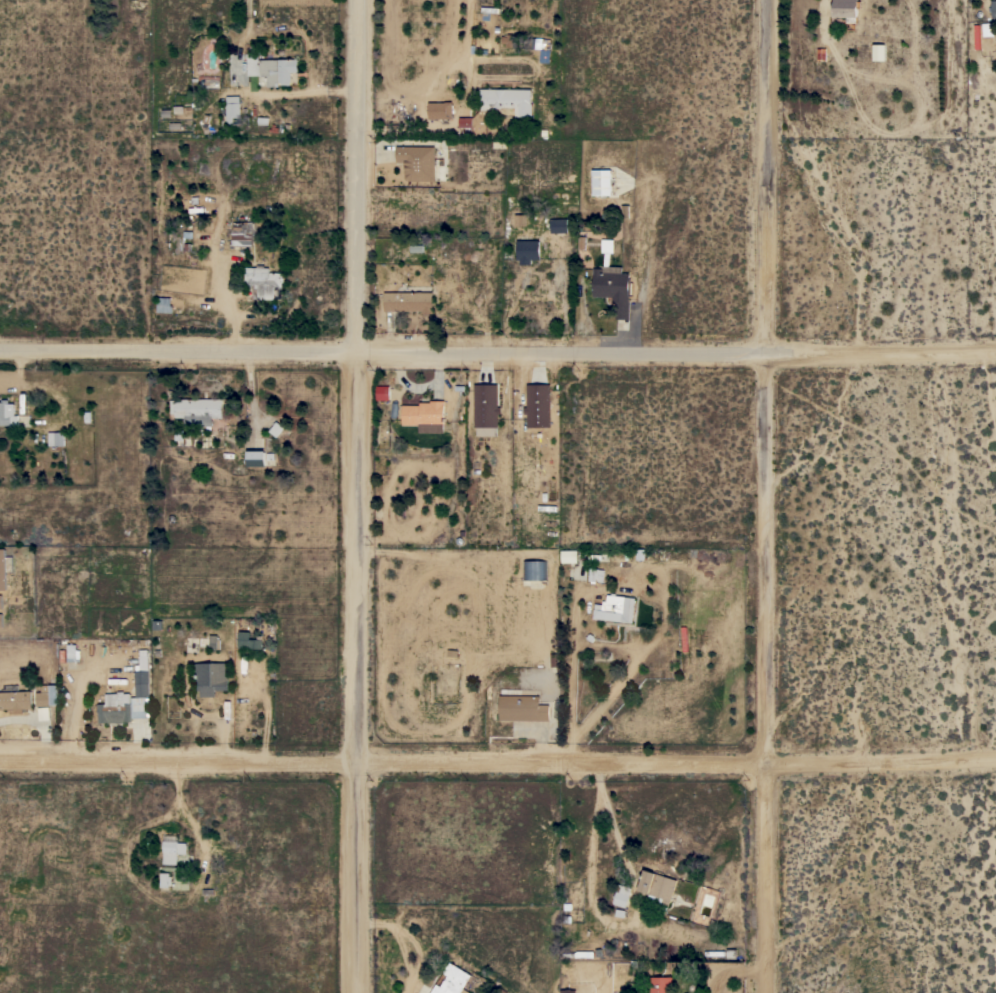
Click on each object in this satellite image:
building: (846, 9)
building: (993, 9)
building: (507, 40)
building: (877, 52)
building: (271, 69)
building: (206, 78)
building: (507, 100)
building: (231, 110)
building: (440, 110)
building: (465, 122)
building: (417, 162)
building: (601, 182)
building: (520, 220)
building: (558, 223)
building: (241, 233)
building: (527, 251)
building: (262, 281)
building: (612, 283)
building: (408, 301)
building: (163, 304)
road: (497, 358)
building: (485, 405)
building: (538, 405)
building: (197, 410)
building: (8, 414)
building: (425, 415)
building: (56, 439)
building: (258, 458)
road: (357, 496)
road: (764, 496)
building: (569, 556)
building: (2, 569)
building: (534, 570)
building: (595, 575)
building: (0, 601)
building: (615, 608)
building: (1, 620)
building: (248, 641)
building: (210, 642)
building: (73, 653)
road: (629, 672)
building: (142, 675)
building: (211, 677)
building: (47, 695)
building: (15, 701)
building: (121, 708)
building: (522, 708)
road: (498, 763)
building: (172, 849)
building: (165, 879)
building: (657, 887)
building: (621, 895)
building: (578, 954)
building: (453, 980)
building: (661, 984)
building: (567, 991)

